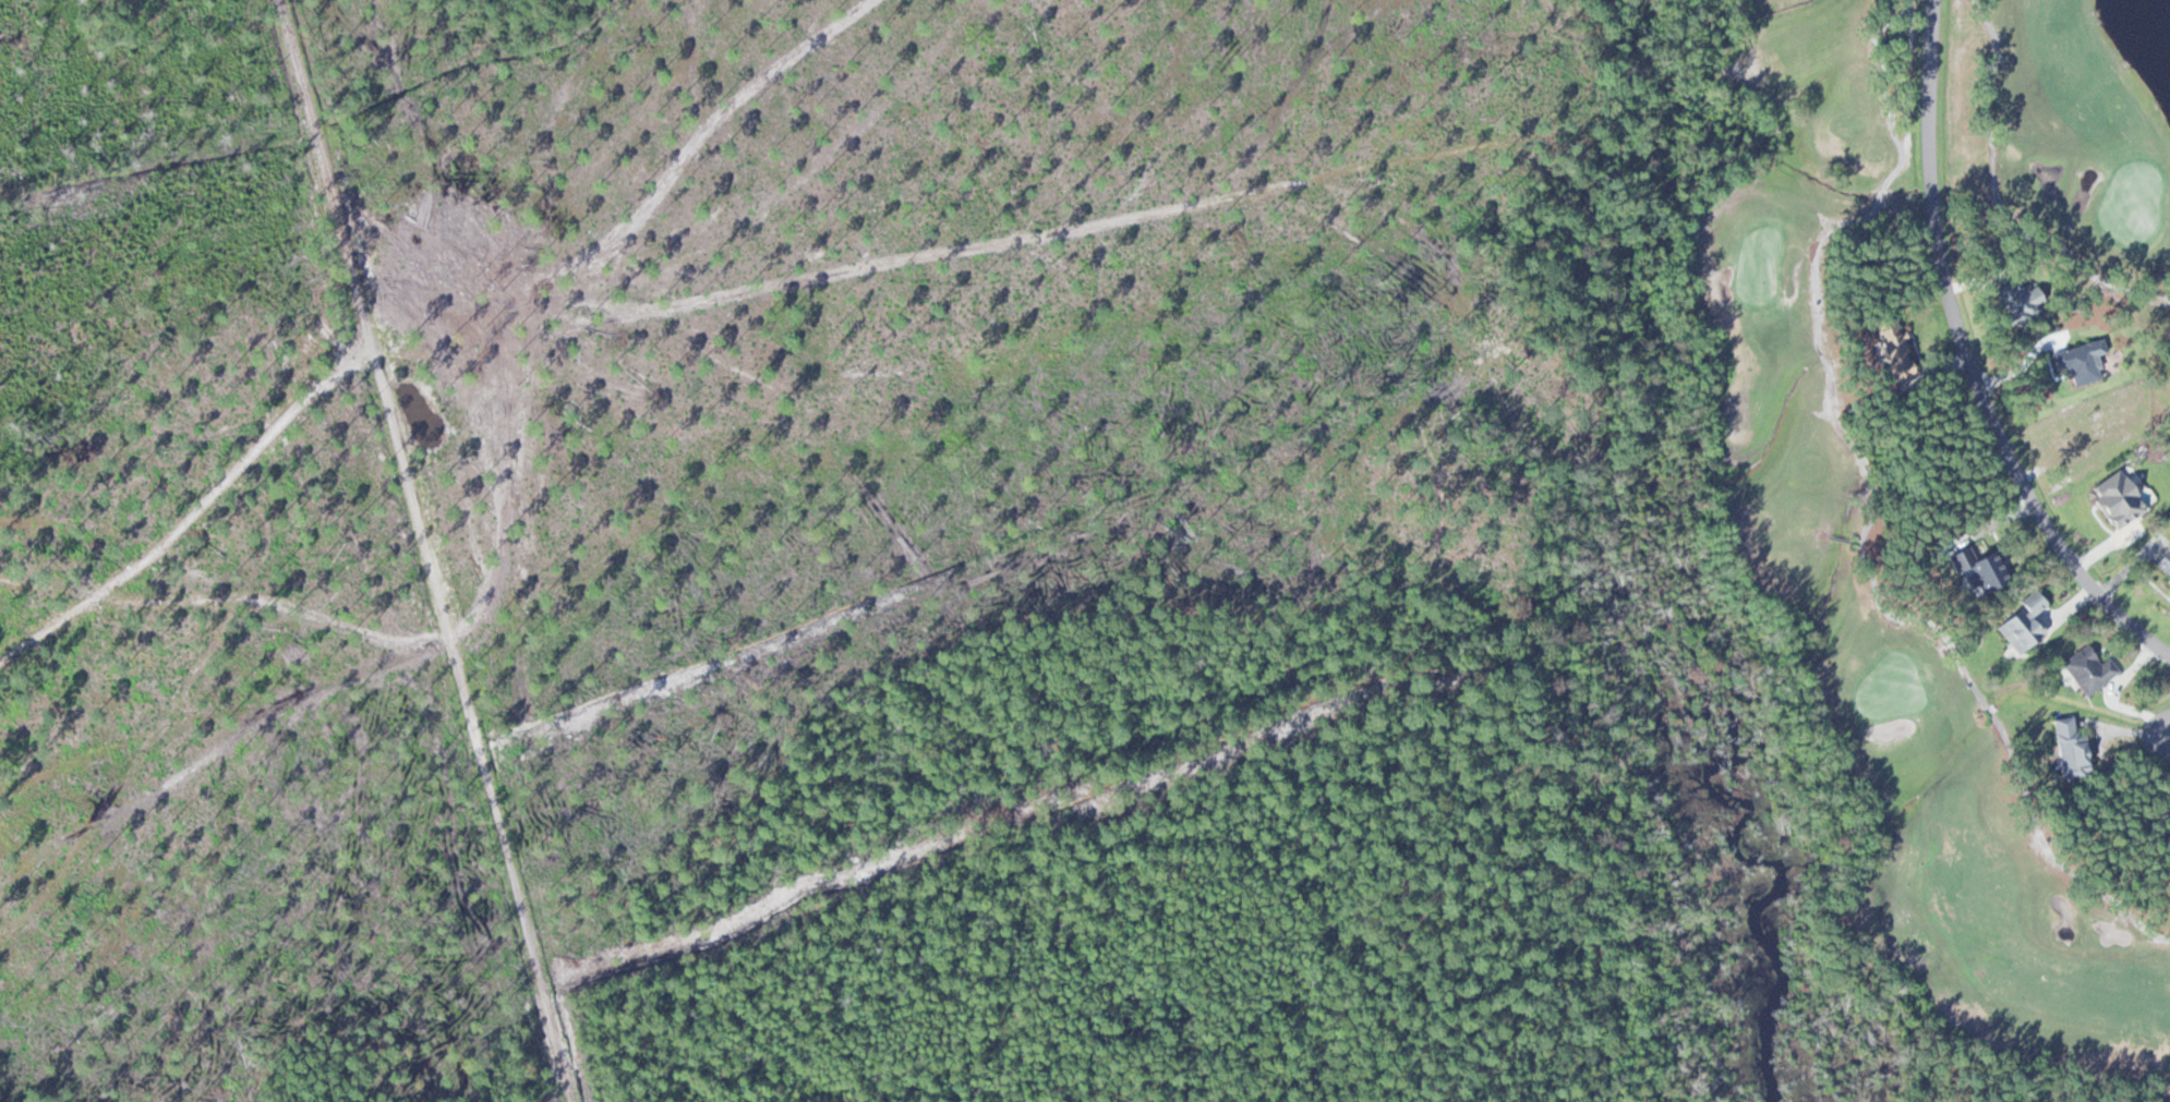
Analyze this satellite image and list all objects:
building: (1890, 39)
road: (1997, 196)
building: (2021, 301)
building: (1894, 348)
road: (1968, 358)
building: (2081, 361)
road: (1870, 493)
road: (457, 545)
building: (2165, 562)
building: (1980, 570)
building: (2023, 625)
building: (2089, 669)
road: (2166, 725)
building: (2071, 744)
building: (2167, 818)

